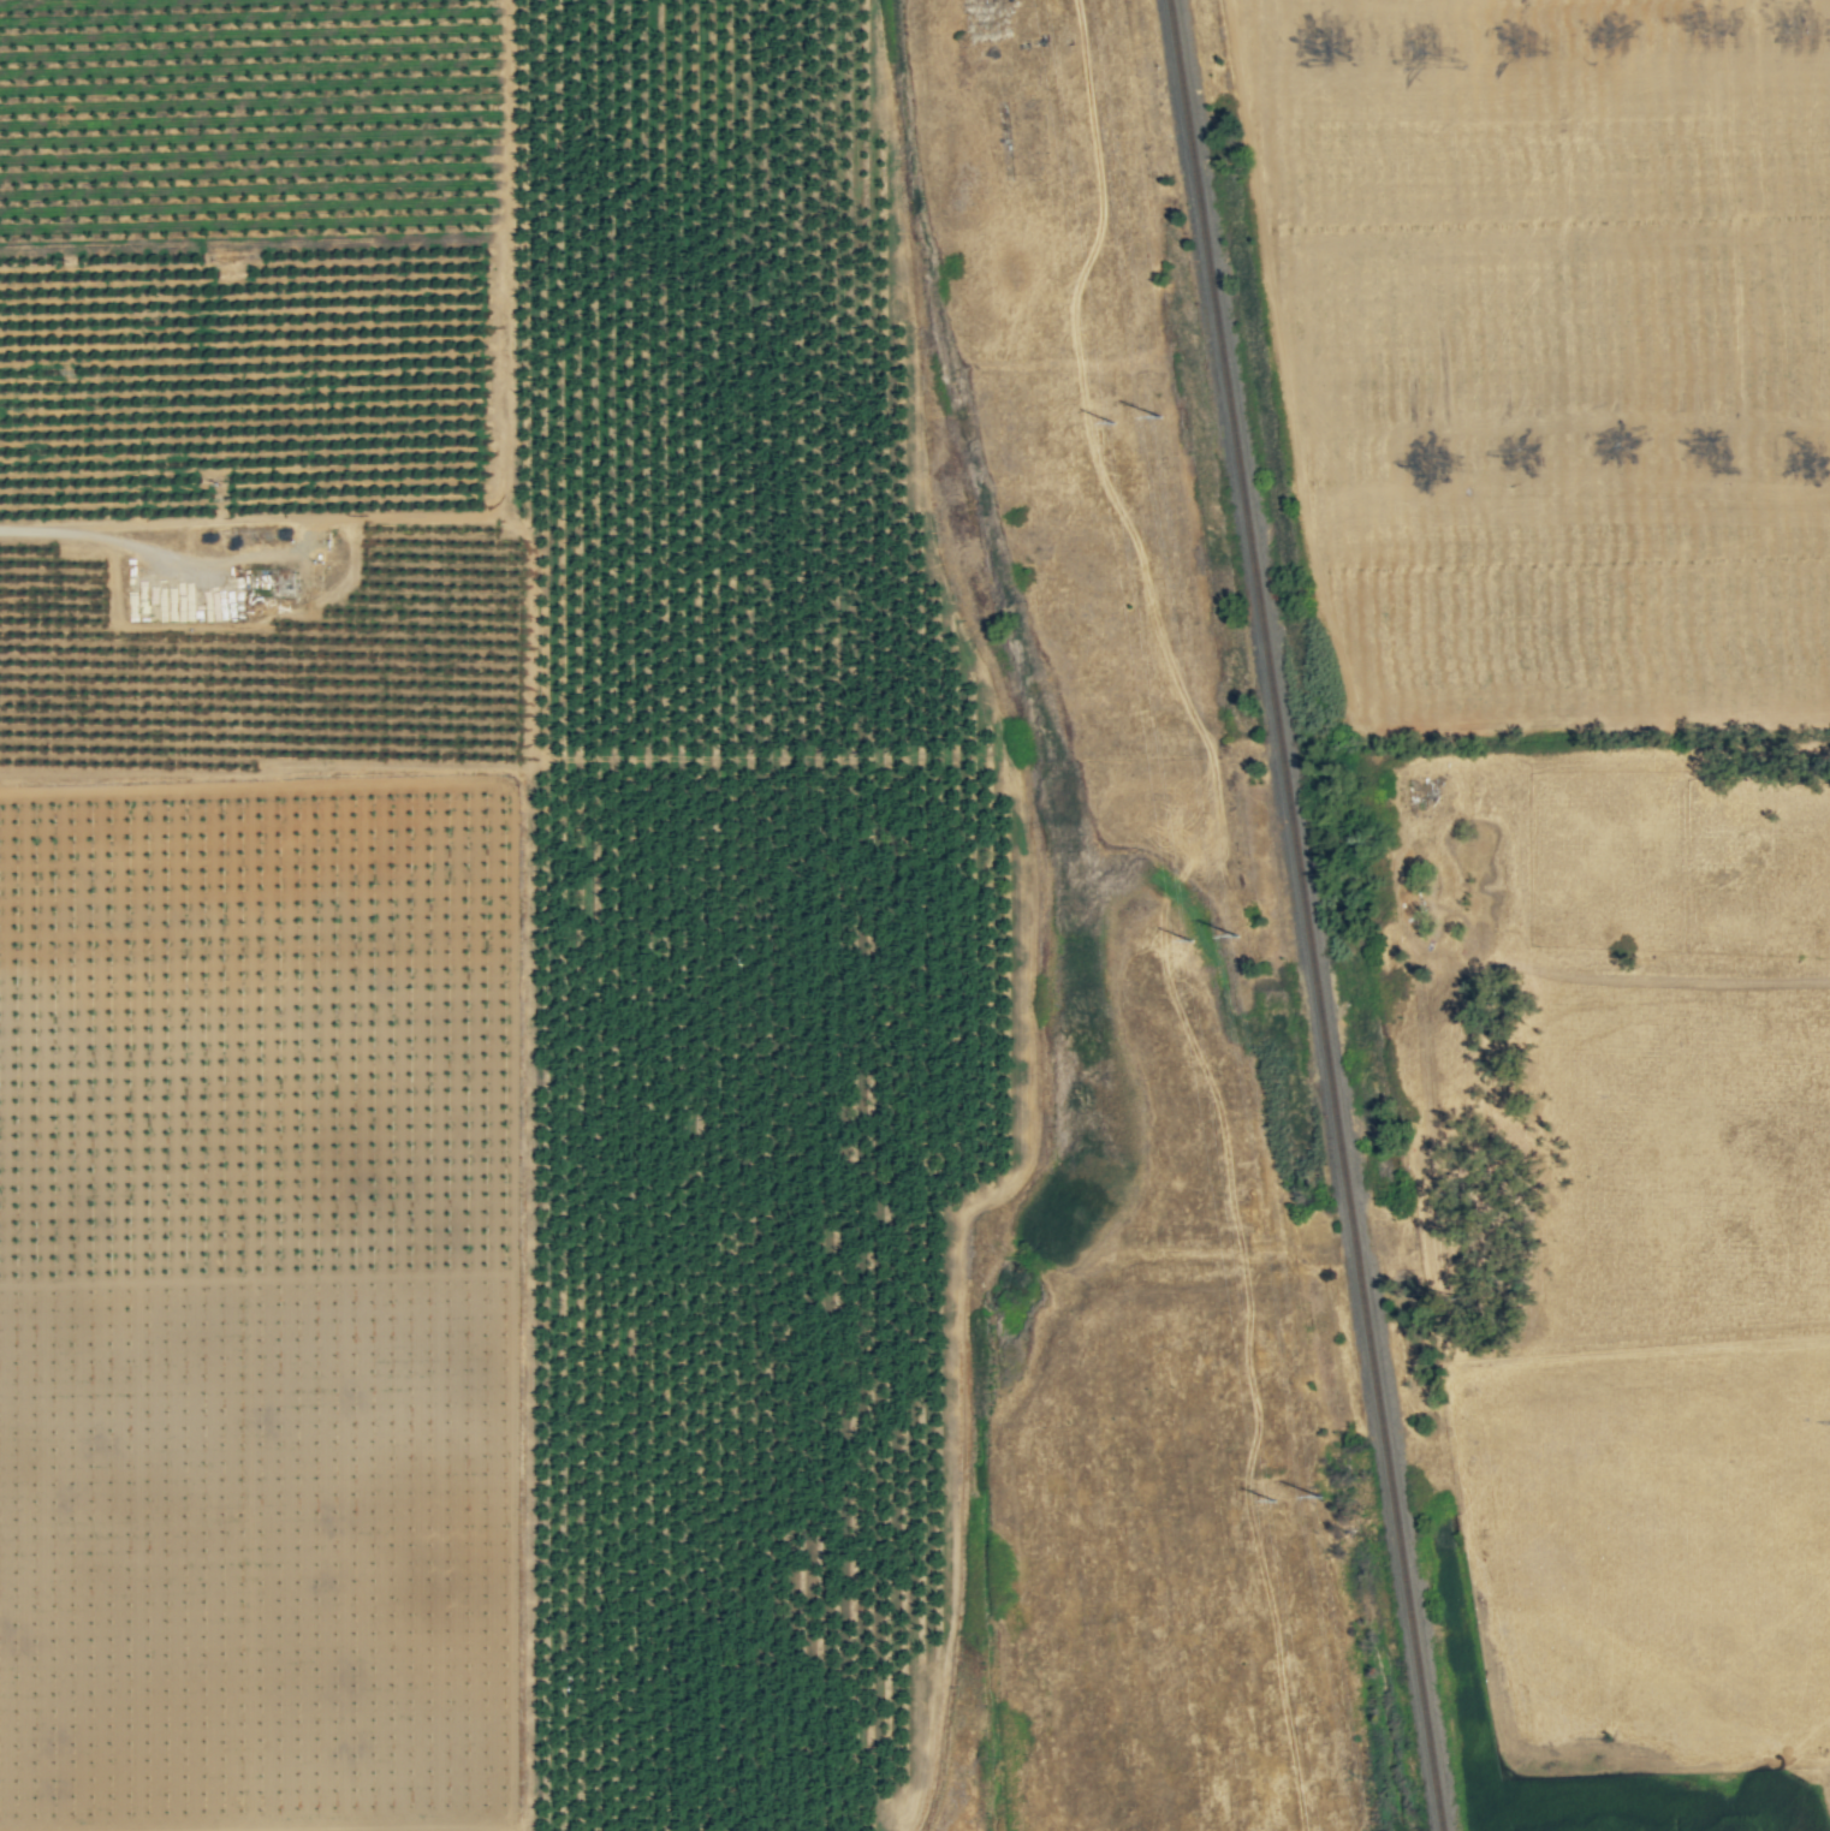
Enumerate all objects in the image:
power tower: (1112, 408)
railway: (1313, 915)
power tower: (1194, 956)
power tower: (1272, 1485)

